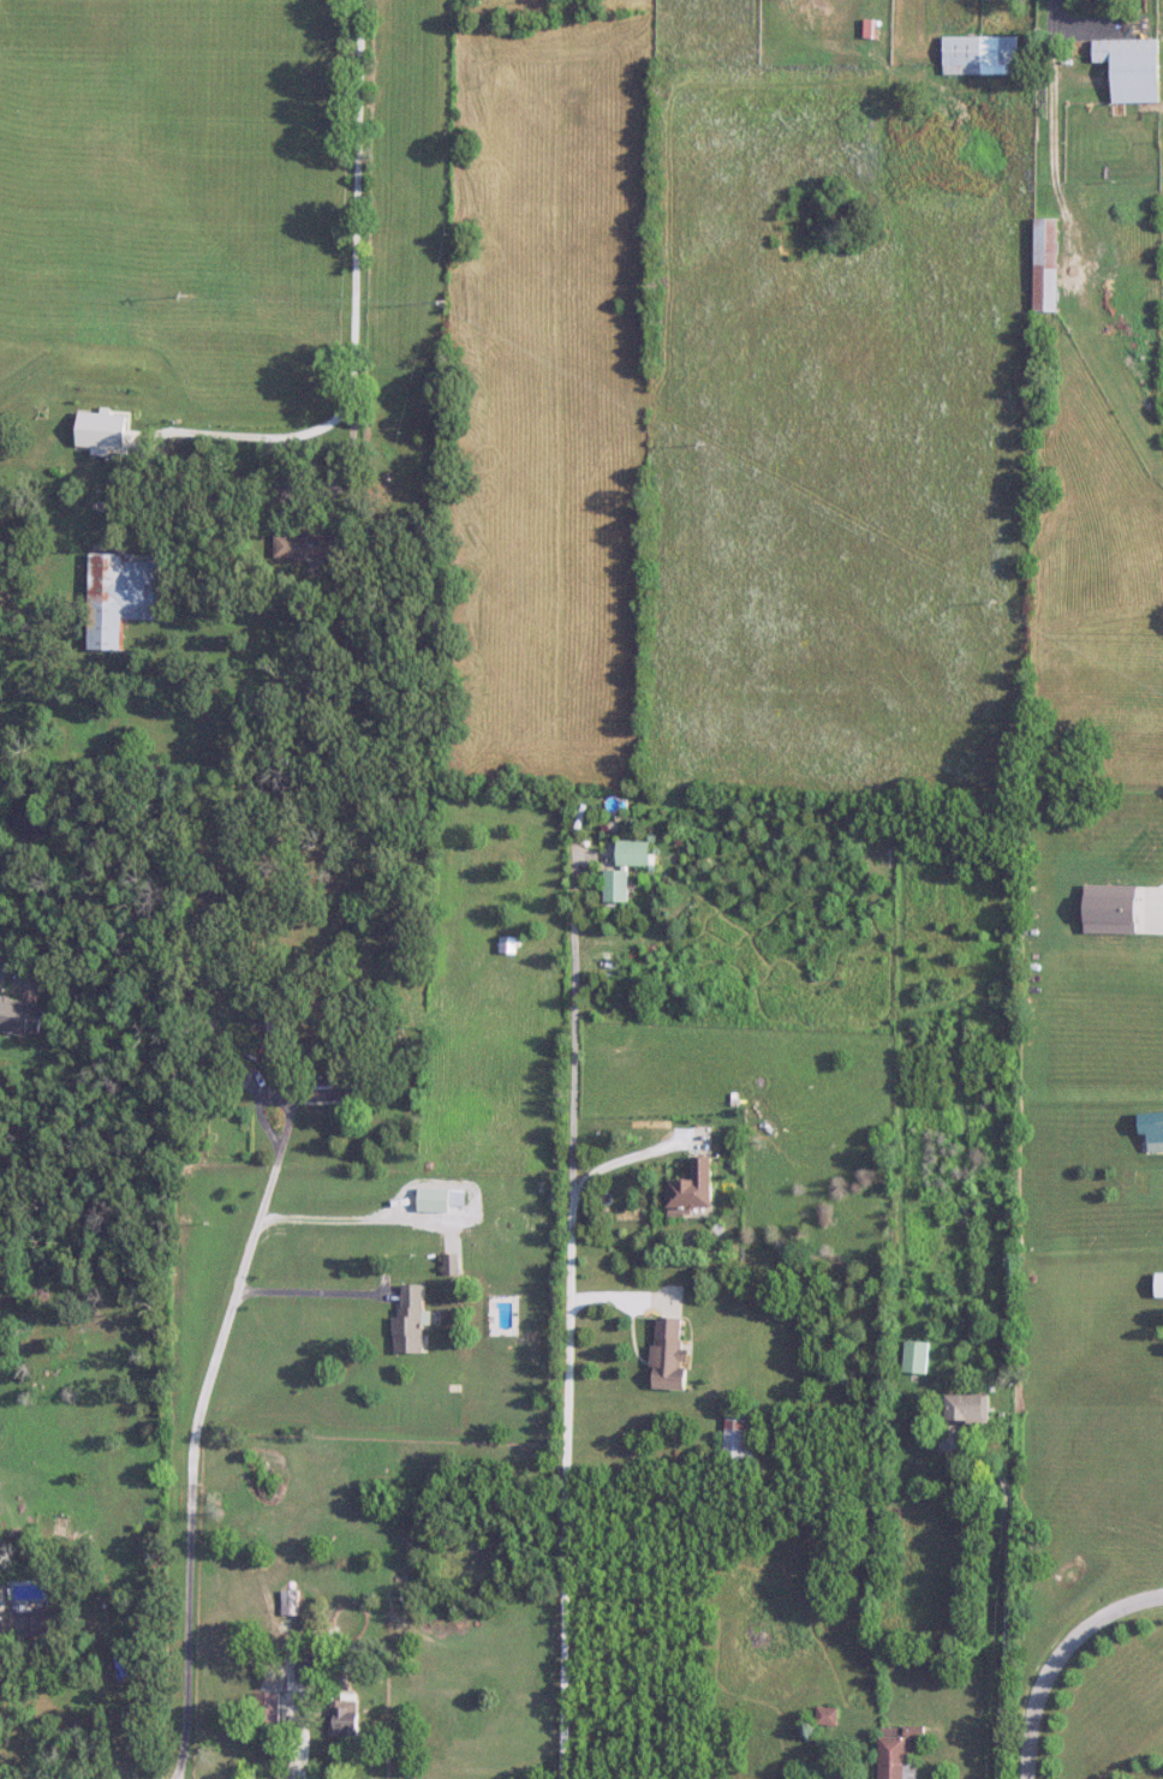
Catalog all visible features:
road: (934, 31)
building: (983, 55)
building: (1133, 68)
road: (1052, 149)
building: (1048, 265)
road: (357, 348)
building: (320, 544)
building: (120, 597)
building: (634, 853)
building: (616, 886)
road: (573, 1008)
building: (19, 1010)
building: (332, 1085)
building: (1156, 1140)
road: (636, 1154)
building: (694, 1186)
building: (1159, 1285)
road: (320, 1294)
building: (410, 1321)
building: (672, 1355)
building: (917, 1356)
building: (968, 1408)
building: (738, 1437)
road: (195, 1439)
road: (565, 1477)
road: (1008, 1592)
building: (291, 1602)
building: (37, 1623)
building: (909, 1655)
building: (931, 1656)
road: (1057, 1659)
building: (304, 1670)
road: (89, 1702)
building: (345, 1715)
building: (828, 1717)
building: (899, 1751)

